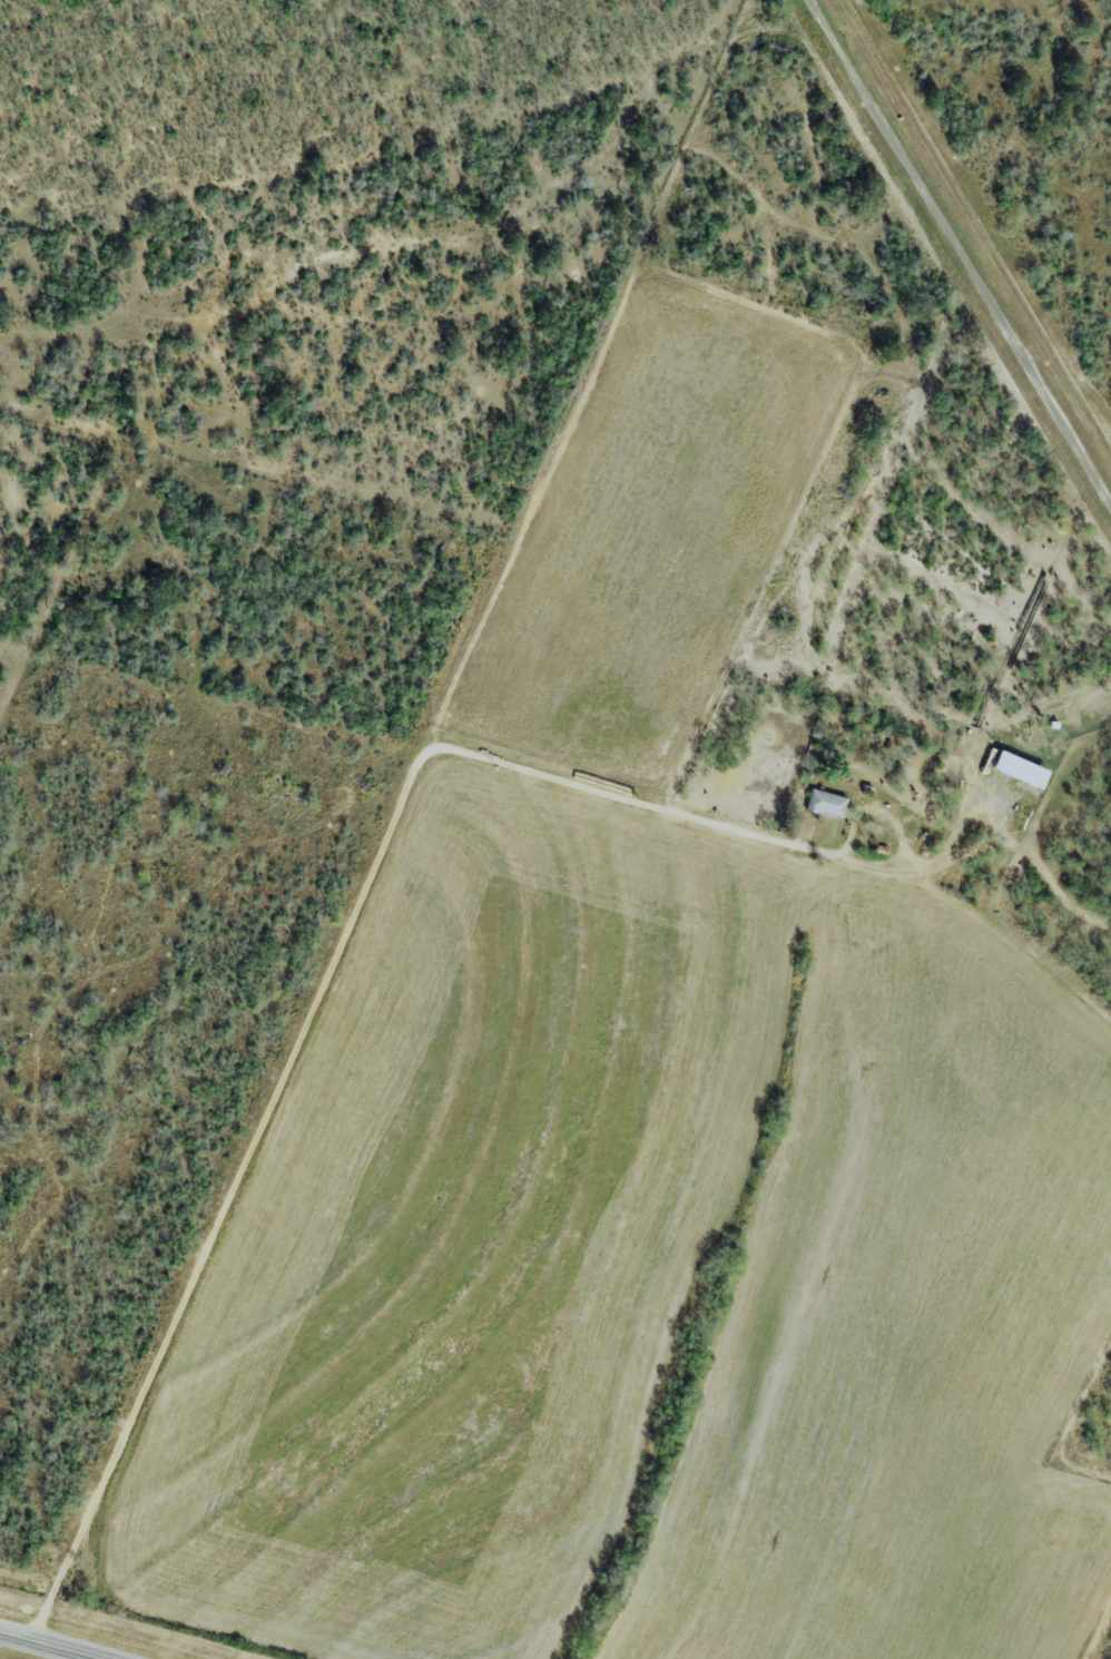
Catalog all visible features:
road: (956, 259)
building: (1016, 769)
building: (825, 804)
road: (321, 1011)
road: (37, 1648)

